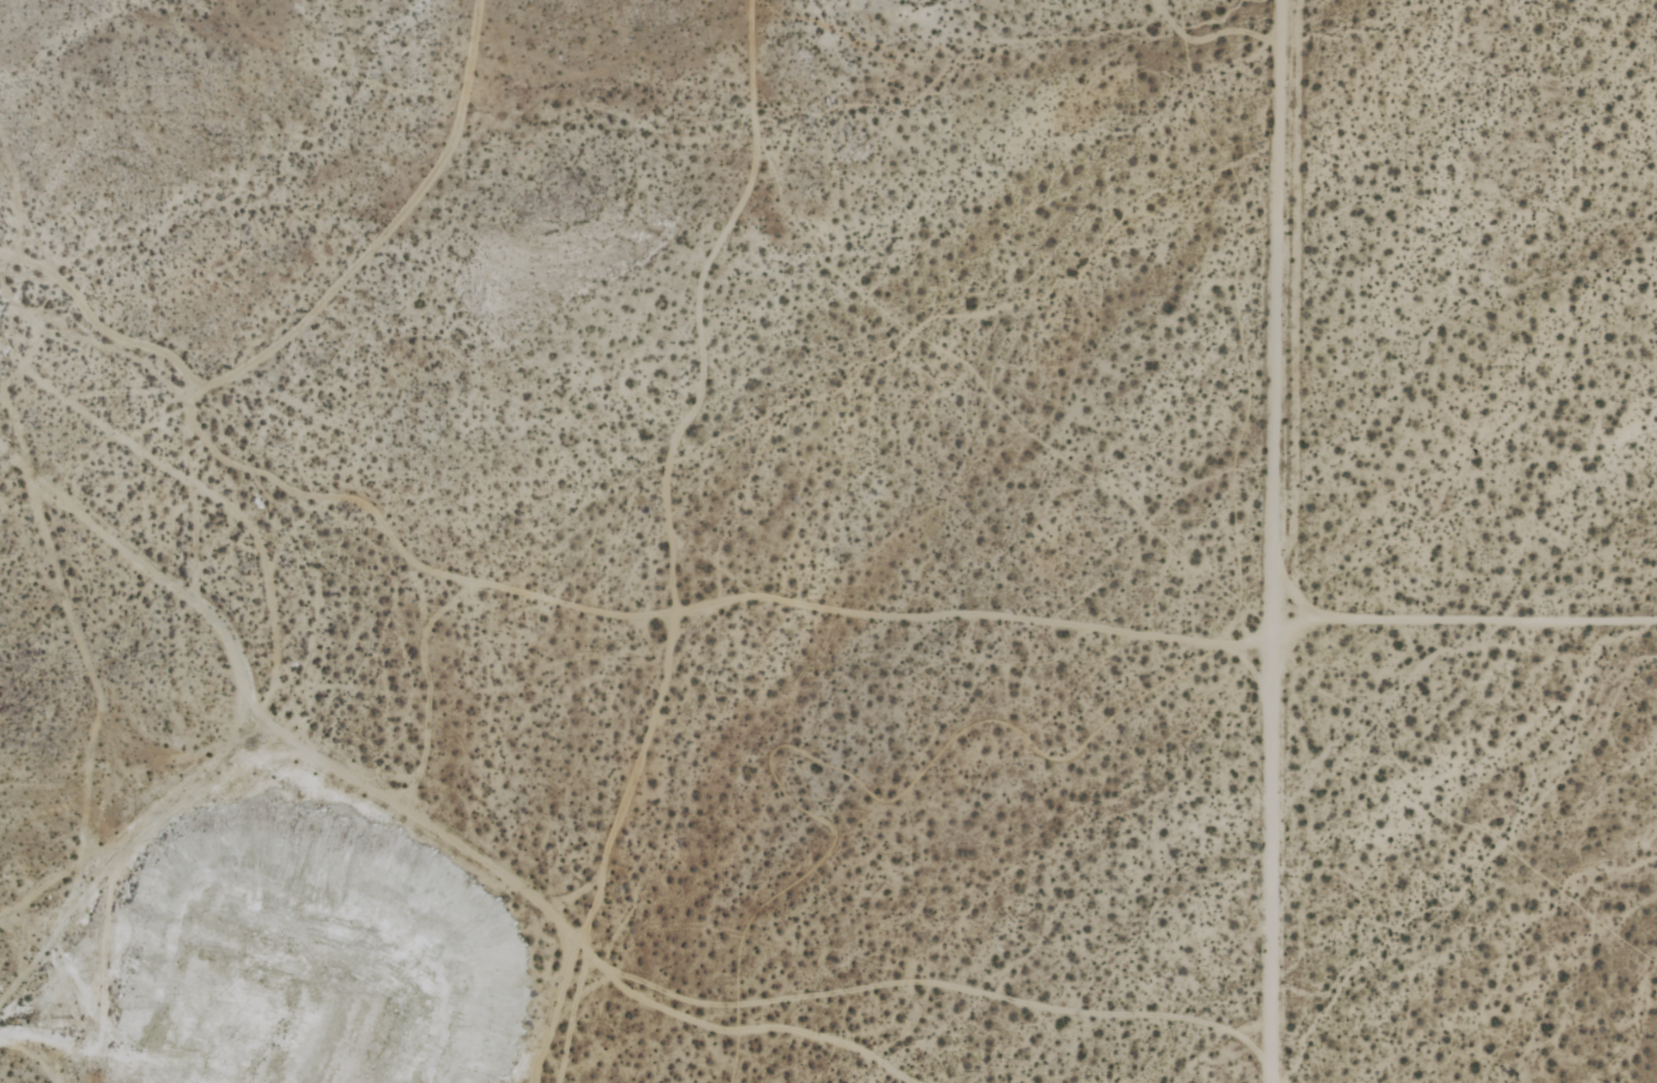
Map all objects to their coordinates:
quarry: (347, 477)
road: (1277, 541)

